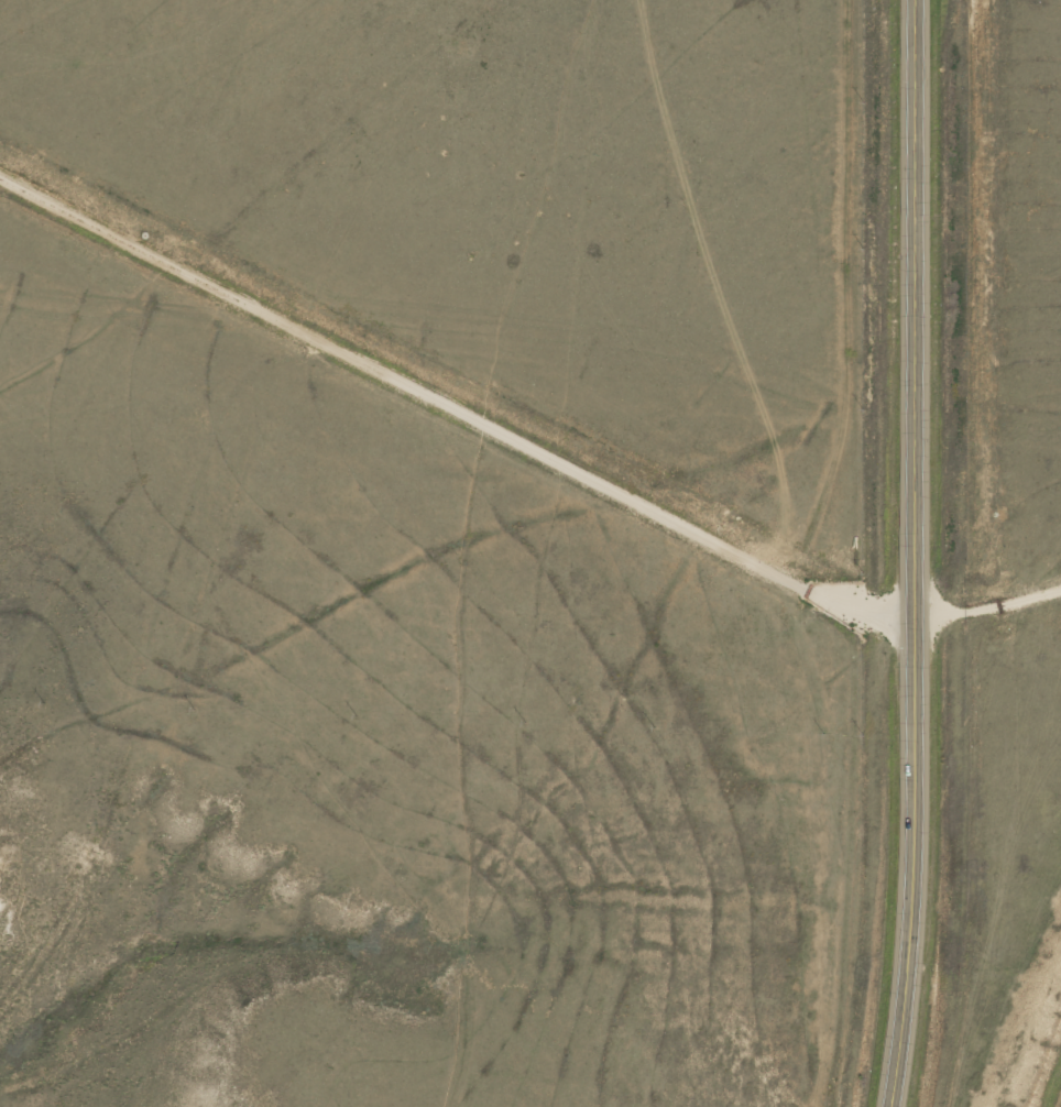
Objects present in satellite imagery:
road: (992, 351)
road: (452, 395)
road: (921, 553)

